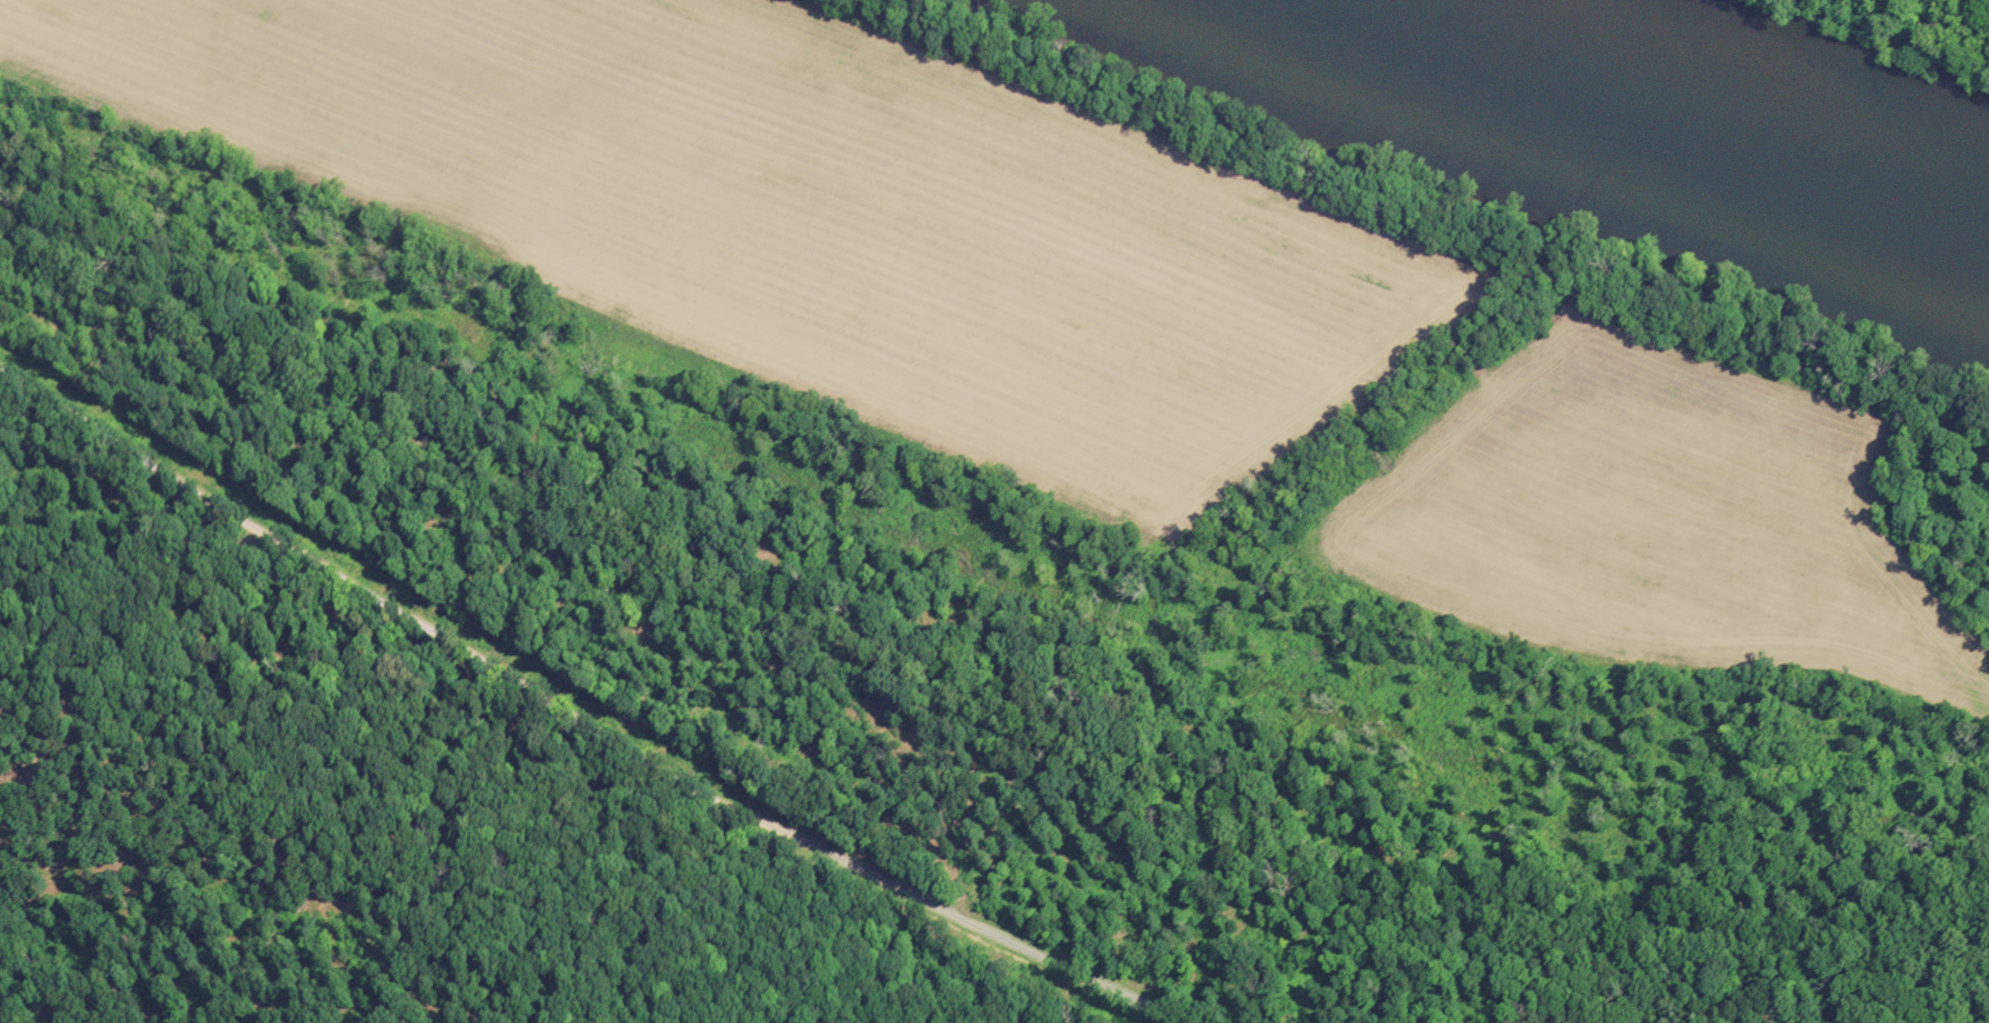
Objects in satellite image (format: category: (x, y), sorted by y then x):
road: (1975, 5)
river: (1663, 108)
road: (579, 724)

